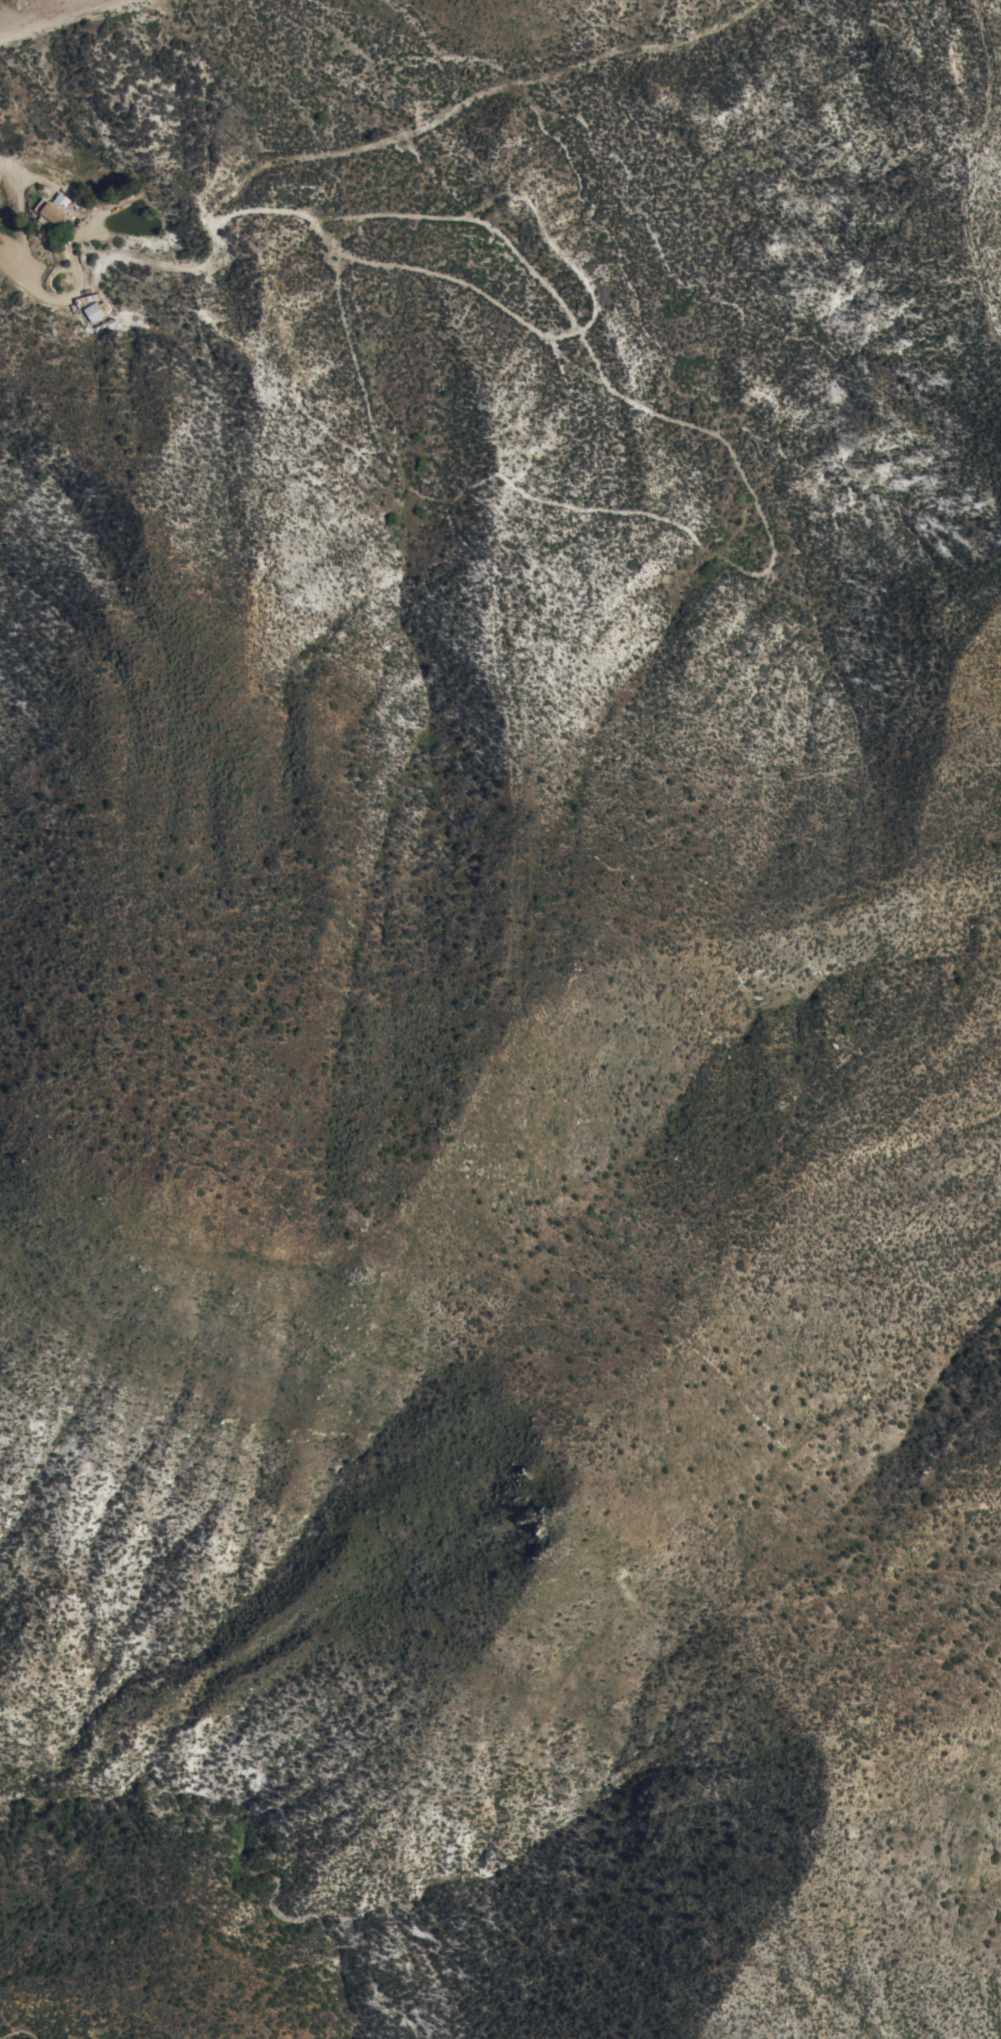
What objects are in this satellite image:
road: (74, 12)
building: (53, 210)
road: (111, 261)
building: (94, 312)

